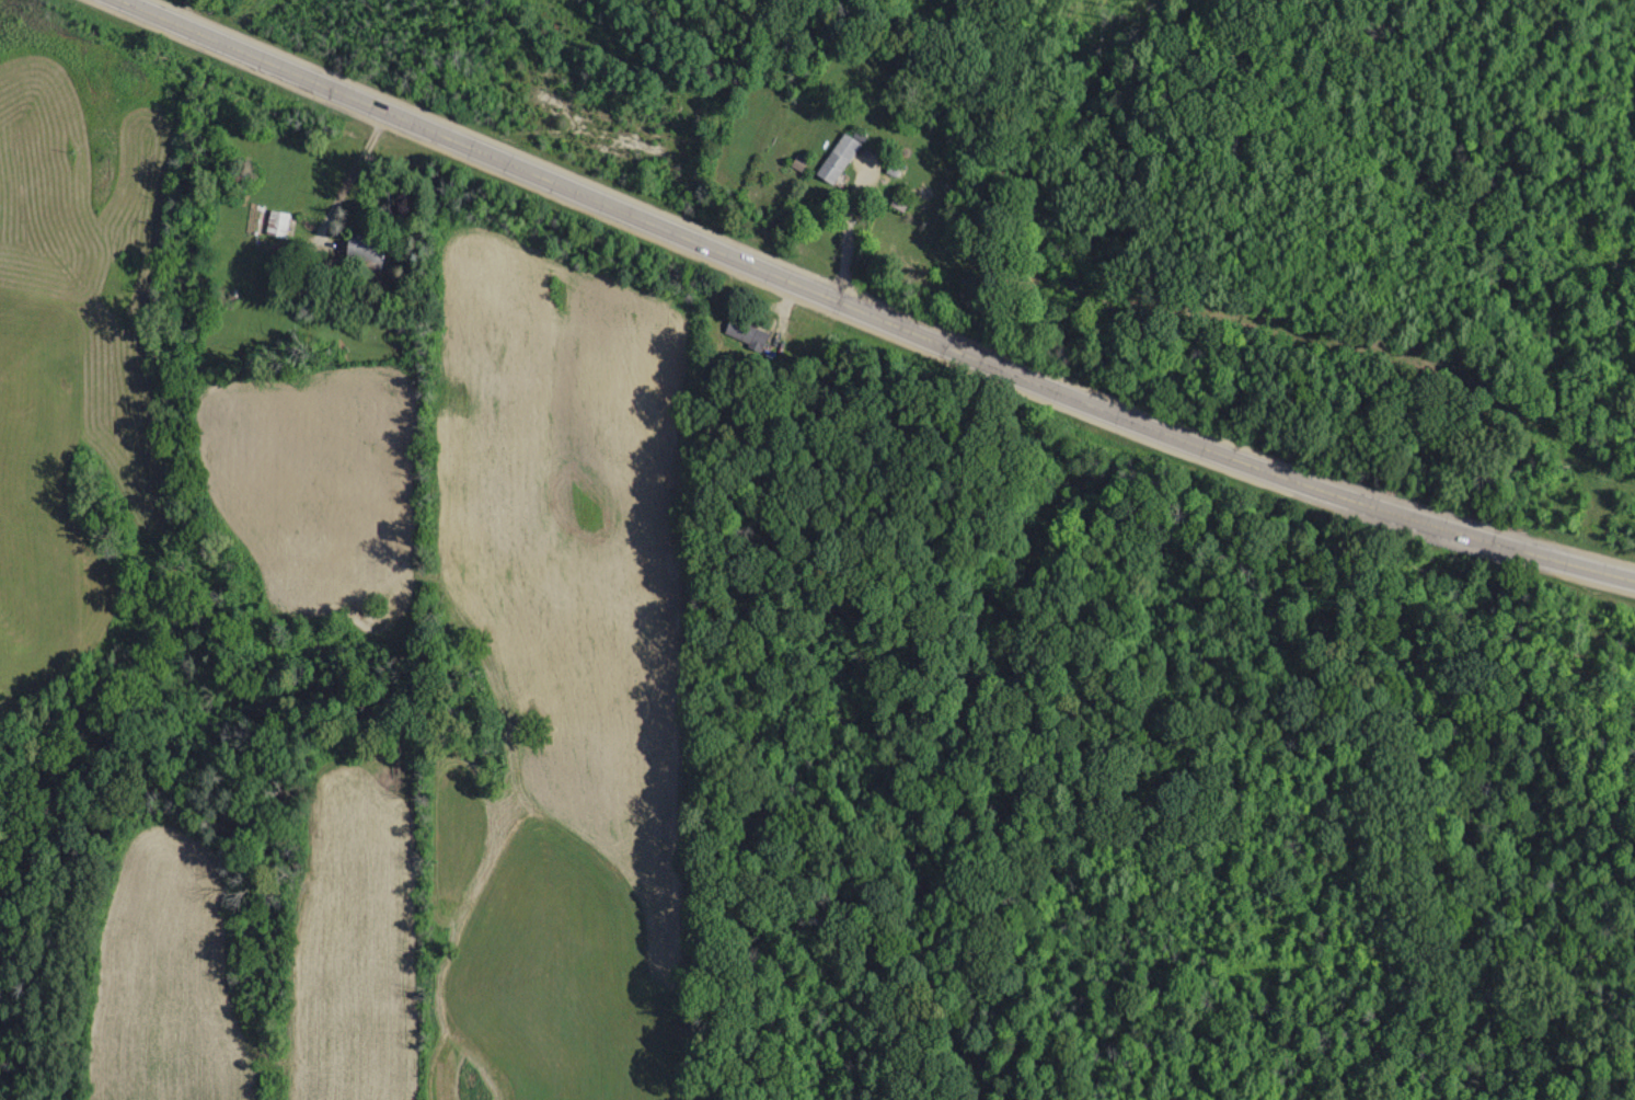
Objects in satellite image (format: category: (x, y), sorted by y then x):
river: (943, 22)
building: (837, 158)
building: (798, 162)
road: (349, 176)
building: (276, 222)
road: (848, 240)
building: (365, 248)
road: (872, 313)
building: (746, 333)

